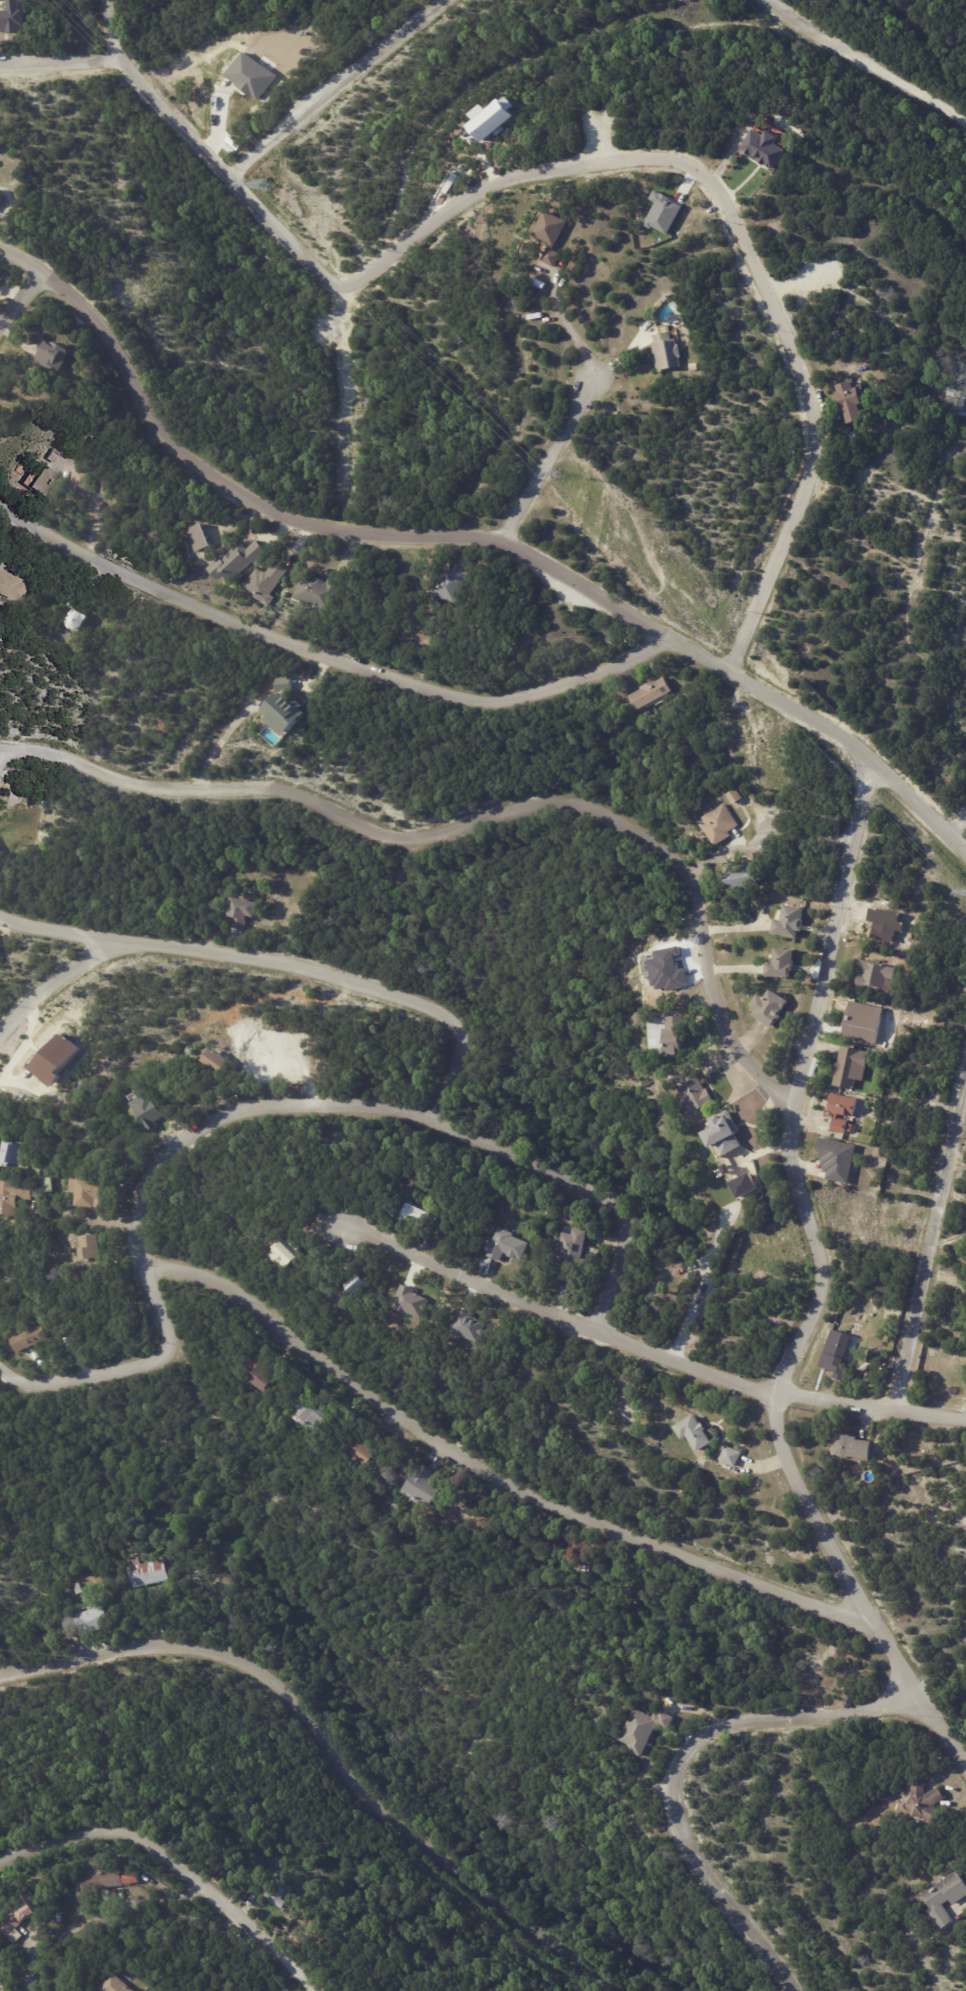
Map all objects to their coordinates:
building: (12, 16)
road: (314, 41)
road: (864, 63)
road: (57, 64)
building: (250, 75)
road: (335, 86)
building: (491, 118)
road: (599, 145)
building: (761, 147)
power tower: (268, 185)
building: (1, 194)
building: (550, 235)
road: (307, 259)
road: (796, 281)
road: (20, 296)
road: (571, 327)
building: (665, 352)
building: (63, 355)
road: (799, 366)
building: (958, 388)
building: (848, 400)
building: (850, 433)
building: (53, 458)
road: (547, 459)
power tower: (561, 473)
building: (85, 481)
building: (47, 483)
building: (198, 537)
road: (469, 539)
building: (247, 560)
building: (274, 583)
building: (448, 583)
building: (14, 587)
building: (322, 591)
building: (73, 605)
building: (81, 620)
road: (329, 653)
building: (650, 693)
building: (288, 708)
road: (1, 756)
building: (733, 797)
road: (479, 820)
building: (718, 824)
road: (961, 827)
building: (767, 869)
building: (742, 875)
building: (249, 914)
building: (789, 923)
building: (780, 965)
road: (284, 967)
building: (875, 977)
road: (56, 979)
building: (769, 1008)
building: (862, 1021)
building: (666, 1036)
building: (56, 1059)
building: (221, 1059)
building: (850, 1068)
building: (691, 1095)
road: (267, 1104)
building: (153, 1106)
building: (841, 1112)
building: (852, 1128)
building: (720, 1135)
building: (15, 1153)
building: (836, 1161)
building: (723, 1172)
building: (52, 1184)
building: (740, 1189)
building: (93, 1191)
building: (17, 1197)
building: (414, 1217)
road: (69, 1222)
building: (98, 1246)
building: (506, 1246)
building: (570, 1248)
road: (927, 1248)
building: (292, 1254)
building: (355, 1283)
building: (364, 1285)
road: (818, 1288)
building: (410, 1301)
building: (344, 1305)
building: (468, 1326)
building: (32, 1338)
road: (647, 1349)
building: (836, 1355)
building: (872, 1358)
building: (268, 1373)
building: (316, 1413)
building: (699, 1432)
building: (850, 1447)
building: (371, 1453)
building: (733, 1456)
road: (489, 1478)
building: (431, 1486)
building: (137, 1559)
building: (154, 1574)
building: (78, 1588)
building: (99, 1621)
building: (644, 1728)
road: (341, 1749)
road: (681, 1769)
building: (923, 1800)
road: (173, 1865)
building: (105, 1881)
building: (279, 1894)
building: (944, 1897)
building: (23, 1916)
building: (117, 1984)

